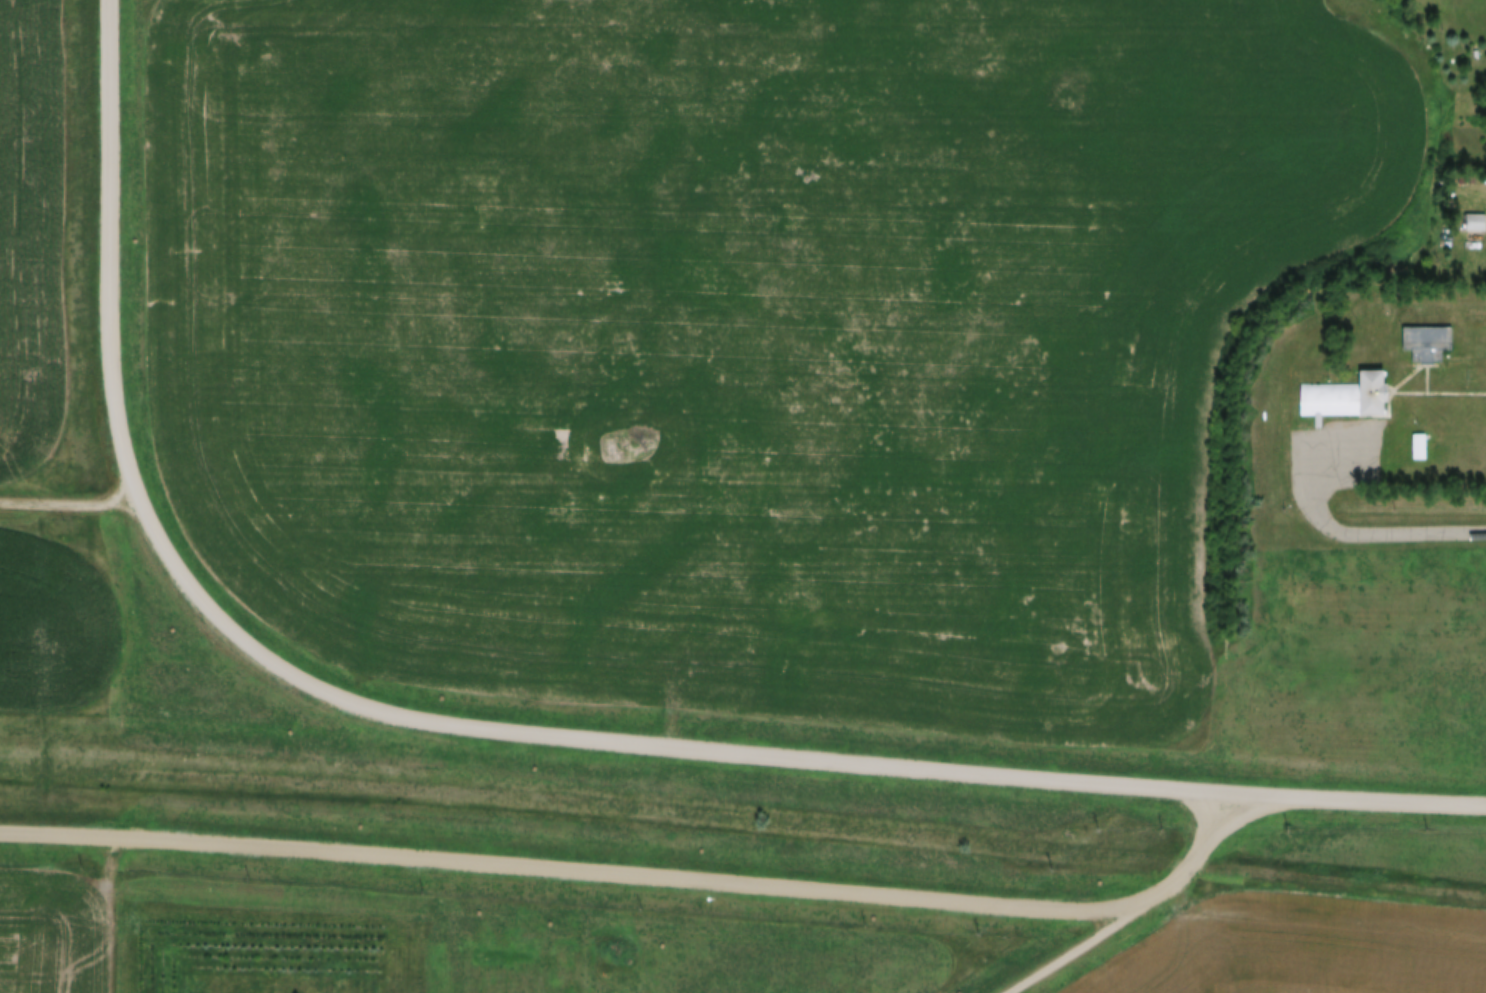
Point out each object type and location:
building: (1466, 173)
building: (1476, 214)
building: (1475, 224)
road: (107, 253)
building: (1426, 336)
building: (1345, 390)
building: (1420, 440)
parking lot: (1344, 446)
road: (1314, 494)
road: (68, 503)
road: (1424, 533)
road: (766, 755)
road: (1233, 823)
road: (640, 875)
road: (106, 912)
road: (1086, 943)

